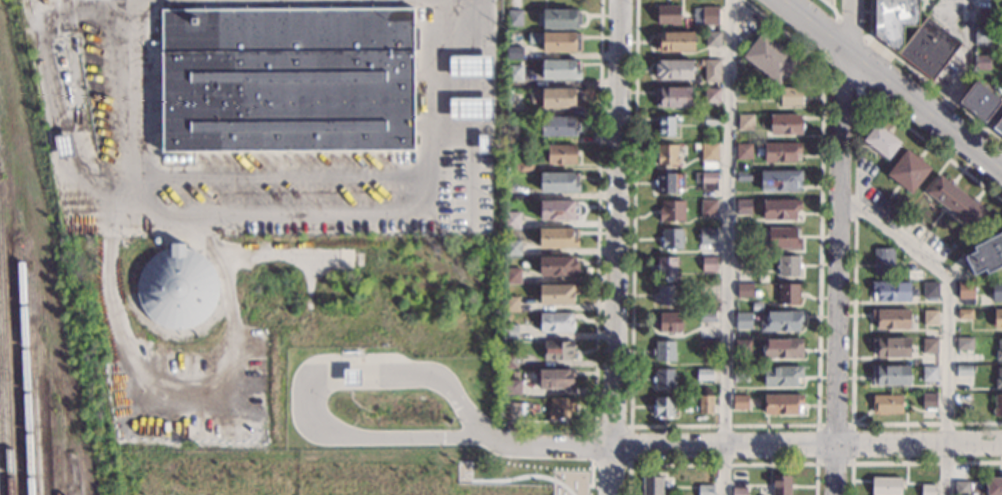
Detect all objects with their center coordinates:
road: (832, 3)
road: (514, 5)
road: (832, 7)
building: (666, 15)
building: (980, 15)
building: (705, 16)
building: (514, 17)
building: (558, 19)
building: (892, 20)
road: (850, 29)
road: (783, 30)
building: (980, 36)
road: (867, 38)
building: (1001, 38)
building: (711, 39)
road: (830, 40)
building: (554, 41)
building: (673, 42)
building: (927, 50)
building: (513, 51)
building: (768, 59)
building: (980, 62)
road: (860, 64)
road: (967, 64)
building: (1001, 66)
building: (469, 68)
building: (559, 70)
building: (711, 70)
building: (673, 71)
building: (513, 73)
road: (840, 75)
road: (921, 78)
building: (286, 79)
road: (891, 85)
road: (48, 92)
building: (749, 92)
building: (710, 95)
building: (788, 96)
building: (512, 97)
building: (552, 97)
building: (672, 97)
building: (979, 101)
building: (469, 110)
road: (62, 120)
building: (710, 121)
building: (743, 122)
building: (784, 124)
building: (557, 126)
building: (664, 126)
building: (998, 126)
building: (879, 141)
building: (482, 144)
road: (930, 145)
building: (64, 146)
building: (741, 151)
building: (780, 152)
building: (559, 154)
building: (665, 155)
building: (708, 155)
road: (471, 156)
building: (522, 167)
building: (905, 170)
building: (741, 176)
road: (285, 177)
building: (706, 180)
building: (778, 180)
building: (557, 182)
building: (668, 183)
building: (954, 201)
building: (741, 206)
road: (115, 208)
building: (707, 208)
building: (556, 210)
building: (778, 210)
building: (670, 211)
road: (597, 213)
road: (633, 213)
road: (287, 214)
building: (510, 220)
building: (707, 235)
building: (743, 235)
building: (555, 238)
building: (780, 238)
building: (670, 239)
building: (952, 242)
road: (837, 246)
road: (614, 247)
road: (726, 247)
building: (511, 248)
building: (986, 255)
building: (695, 260)
building: (743, 262)
building: (882, 262)
building: (708, 264)
building: (555, 266)
building: (786, 266)
building: (666, 267)
building: (913, 275)
building: (511, 276)
building: (178, 287)
building: (705, 289)
building: (742, 290)
building: (929, 290)
building: (889, 291)
building: (995, 291)
building: (964, 293)
building: (556, 294)
building: (757, 294)
building: (786, 294)
building: (666, 295)
road: (854, 303)
building: (509, 305)
building: (755, 307)
building: (963, 314)
building: (705, 317)
building: (929, 317)
building: (505, 318)
building: (890, 319)
road: (950, 319)
building: (996, 319)
building: (742, 321)
building: (779, 321)
building: (554, 323)
building: (667, 323)
building: (508, 332)
road: (818, 335)
building: (962, 344)
building: (928, 346)
building: (705, 347)
building: (890, 347)
building: (741, 348)
building: (781, 349)
building: (555, 350)
building: (998, 350)
building: (663, 352)
building: (707, 359)
building: (507, 360)
railway: (5, 364)
road: (329, 369)
building: (962, 370)
railway: (24, 373)
building: (929, 374)
building: (702, 375)
building: (739, 375)
building: (889, 376)
building: (351, 377)
gas station: (351, 377)
building: (780, 377)
building: (998, 378)
building: (554, 379)
building: (663, 380)
building: (507, 388)
road: (194, 399)
building: (927, 401)
building: (739, 403)
building: (703, 404)
building: (780, 404)
building: (885, 405)
building: (997, 405)
building: (559, 408)
building: (662, 408)
road: (465, 409)
building: (511, 411)
road: (974, 422)
railway: (37, 425)
road: (428, 438)
road: (747, 445)
road: (910, 462)
road: (852, 463)
road: (724, 464)
road: (629, 465)
railway: (57, 467)
railway: (47, 471)
road: (569, 471)
road: (524, 476)
road: (591, 477)
road: (457, 483)
building: (653, 485)
building: (780, 485)
building: (885, 485)
building: (993, 485)
building: (960, 488)
building: (927, 489)
railway: (0, 490)
building: (705, 490)
building: (738, 491)
railway: (79, 493)

